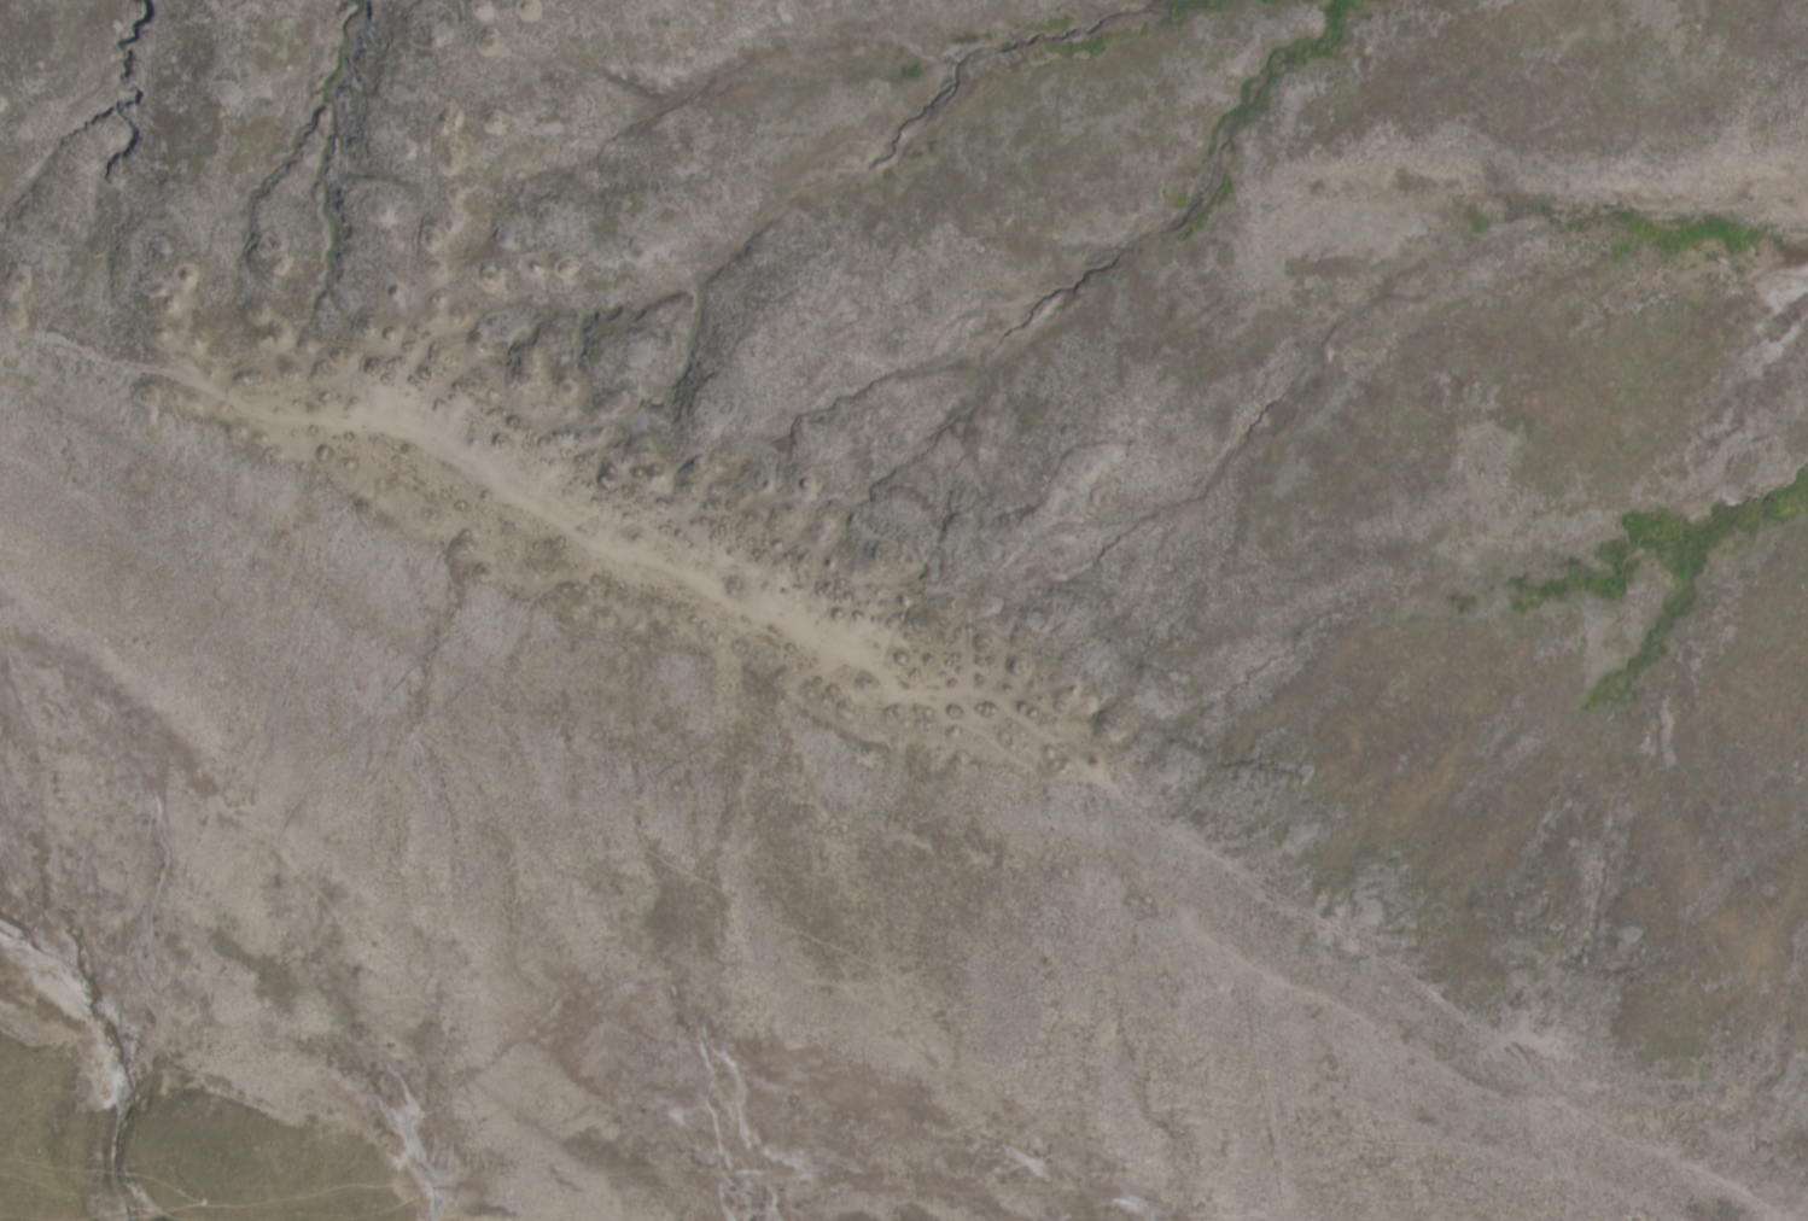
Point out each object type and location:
power tower: (1731, 265)

